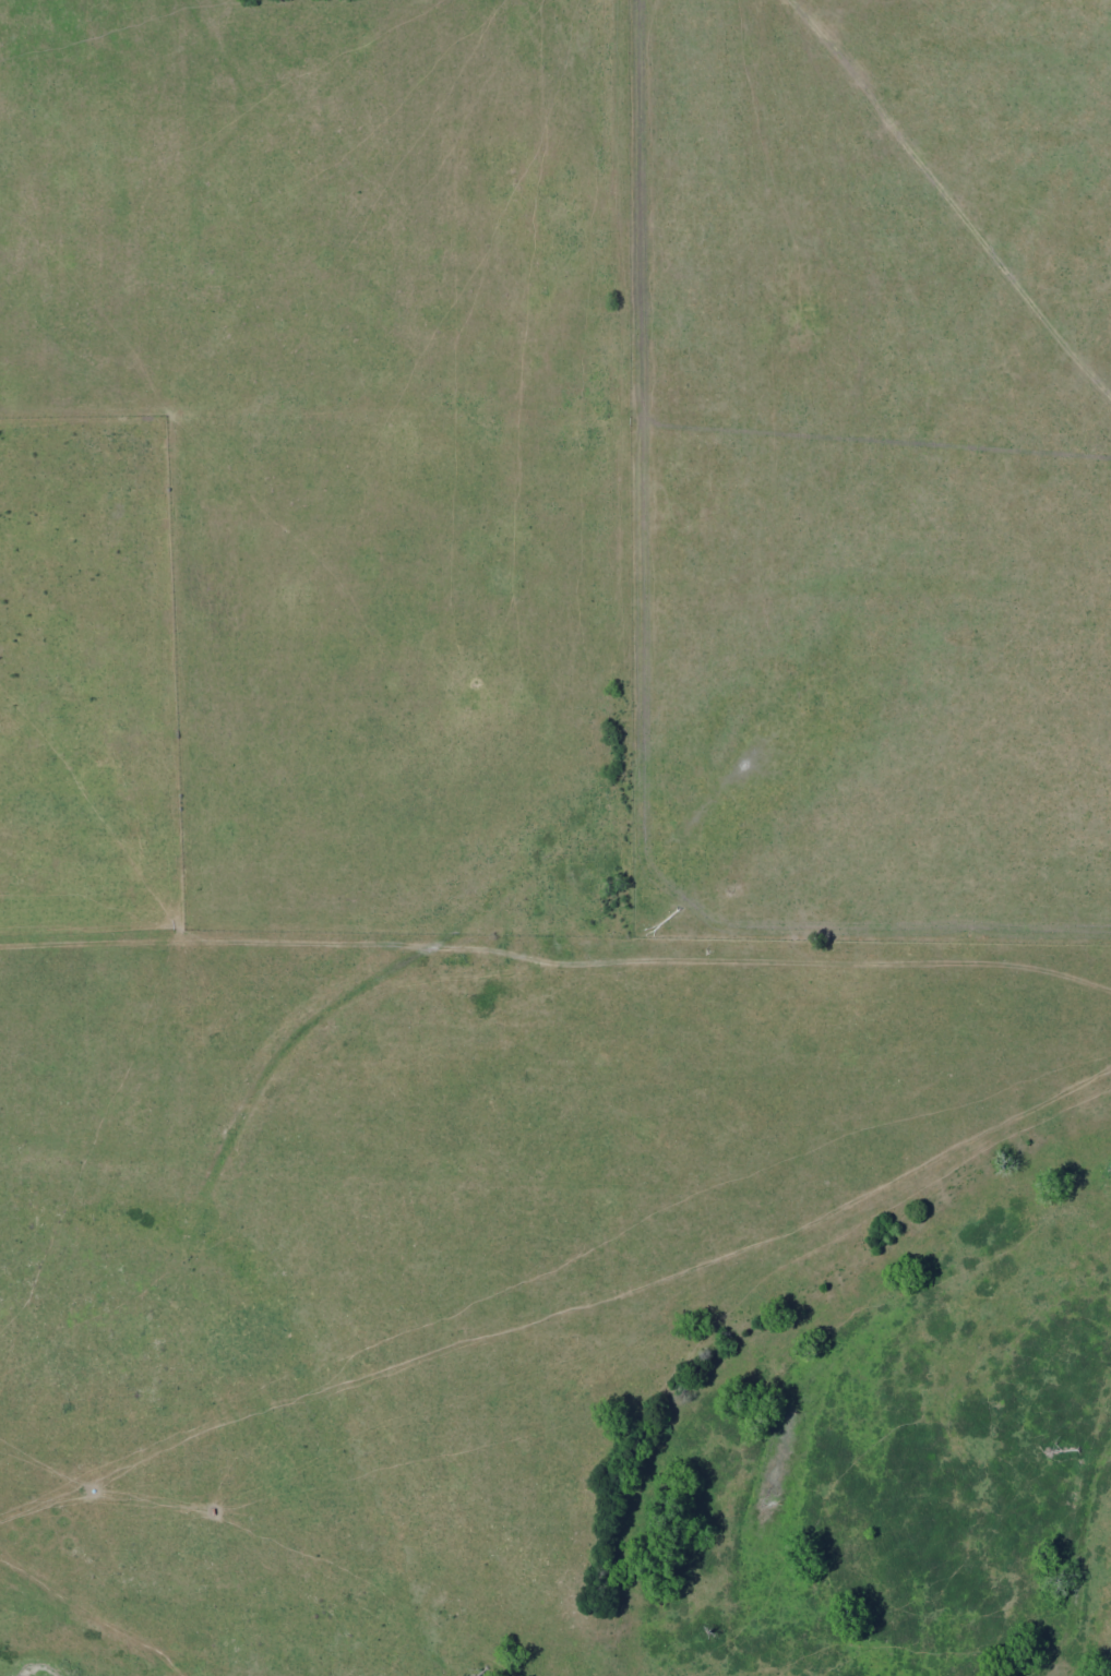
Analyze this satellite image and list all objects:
road: (94, 1612)

